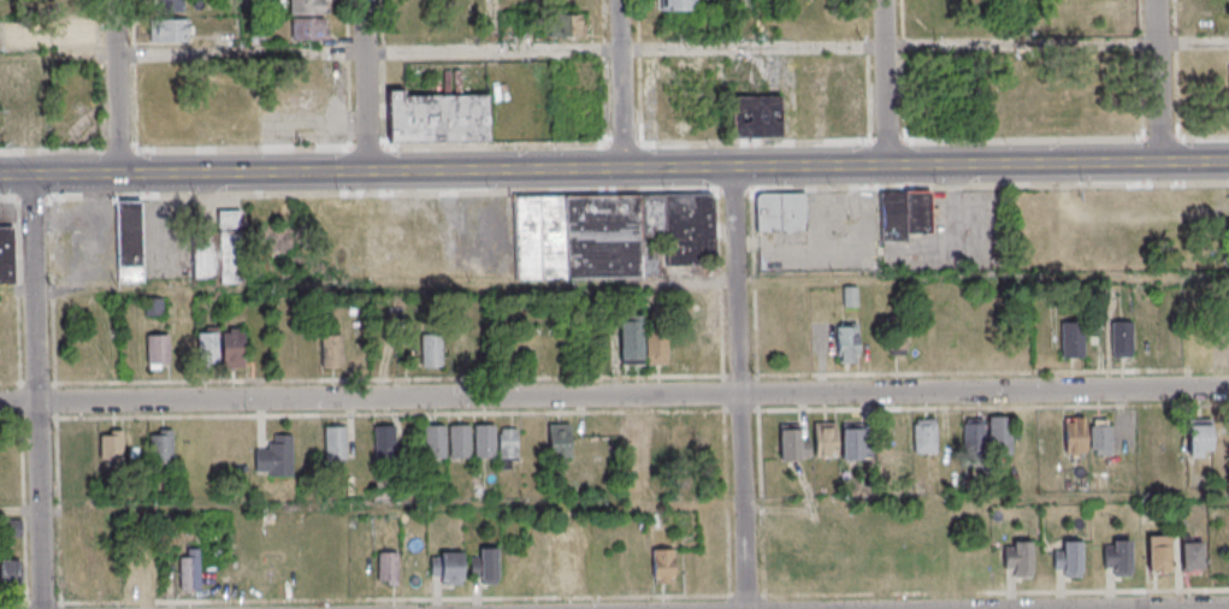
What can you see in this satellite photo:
building: (169, 5)
building: (676, 6)
building: (308, 7)
road: (1028, 23)
building: (566, 24)
road: (496, 26)
building: (308, 28)
building: (170, 30)
building: (65, 32)
road: (674, 51)
road: (1160, 81)
road: (890, 83)
road: (622, 84)
road: (367, 85)
road: (122, 87)
building: (832, 97)
building: (437, 117)
building: (756, 118)
road: (0, 156)
road: (614, 168)
building: (780, 212)
building: (905, 214)
building: (610, 233)
building: (129, 240)
building: (220, 250)
building: (8, 255)
road: (614, 284)
building: (1122, 338)
building: (630, 339)
building: (1071, 339)
building: (898, 341)
building: (1219, 341)
building: (847, 343)
building: (206, 347)
building: (657, 347)
building: (1195, 347)
building: (232, 348)
building: (158, 350)
building: (430, 350)
building: (331, 351)
road: (743, 388)
road: (41, 392)
road: (614, 395)
building: (973, 433)
building: (924, 434)
building: (999, 434)
building: (1075, 434)
building: (899, 436)
building: (1101, 437)
building: (1199, 437)
building: (559, 439)
building: (825, 439)
building: (1221, 439)
building: (384, 441)
building: (433, 441)
building: (460, 441)
building: (484, 441)
building: (793, 441)
building: (851, 441)
building: (335, 442)
building: (684, 442)
building: (111, 445)
building: (160, 445)
building: (660, 445)
building: (508, 447)
building: (634, 447)
building: (83, 449)
building: (274, 456)
building: (71, 492)
road: (614, 503)
building: (1190, 551)
building: (1158, 555)
building: (1117, 556)
building: (561, 558)
building: (1017, 558)
building: (488, 566)
building: (662, 566)
building: (386, 567)
building: (445, 567)
building: (189, 568)
building: (10, 572)
building: (141, 573)
road: (1060, 607)

